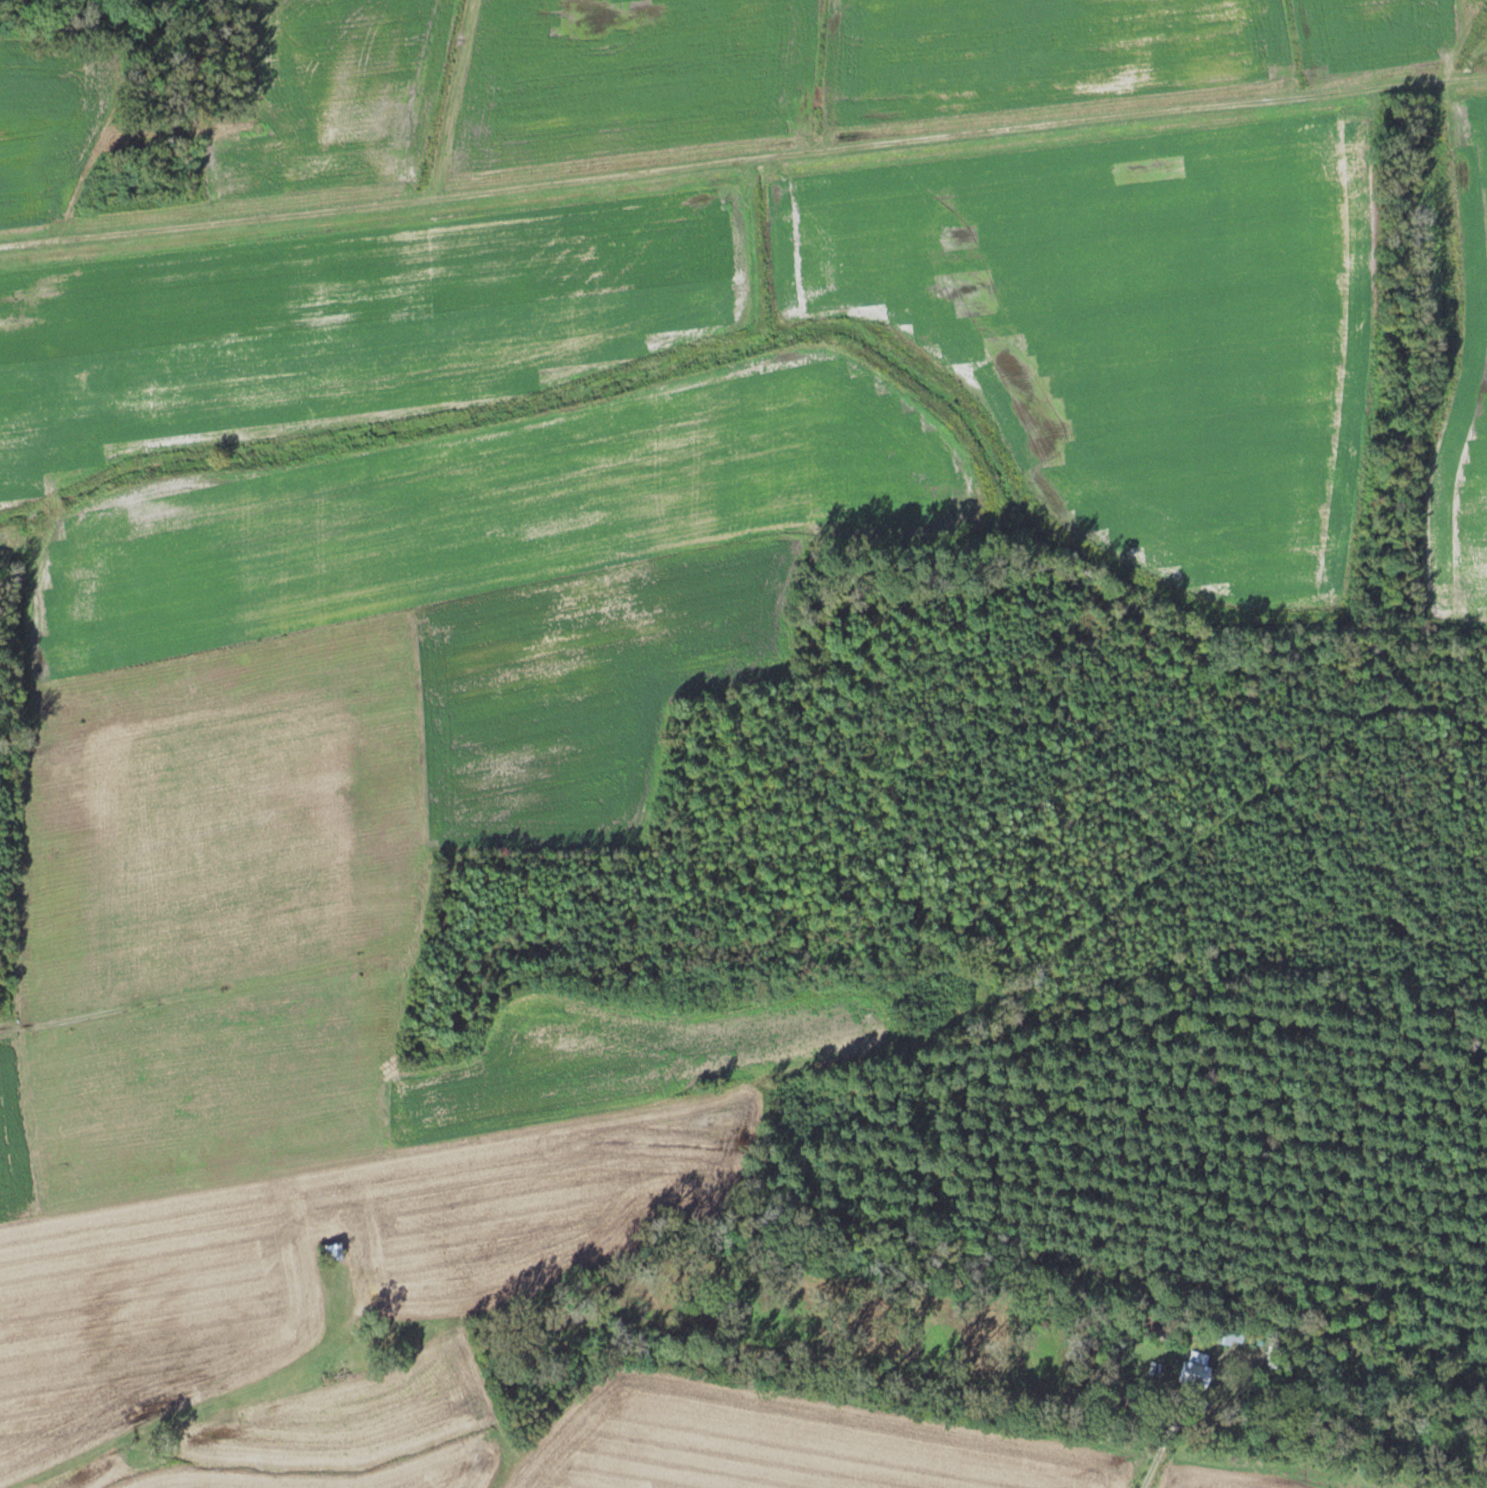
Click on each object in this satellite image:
building: (336, 1251)
building: (1187, 1370)
road: (1149, 1473)

